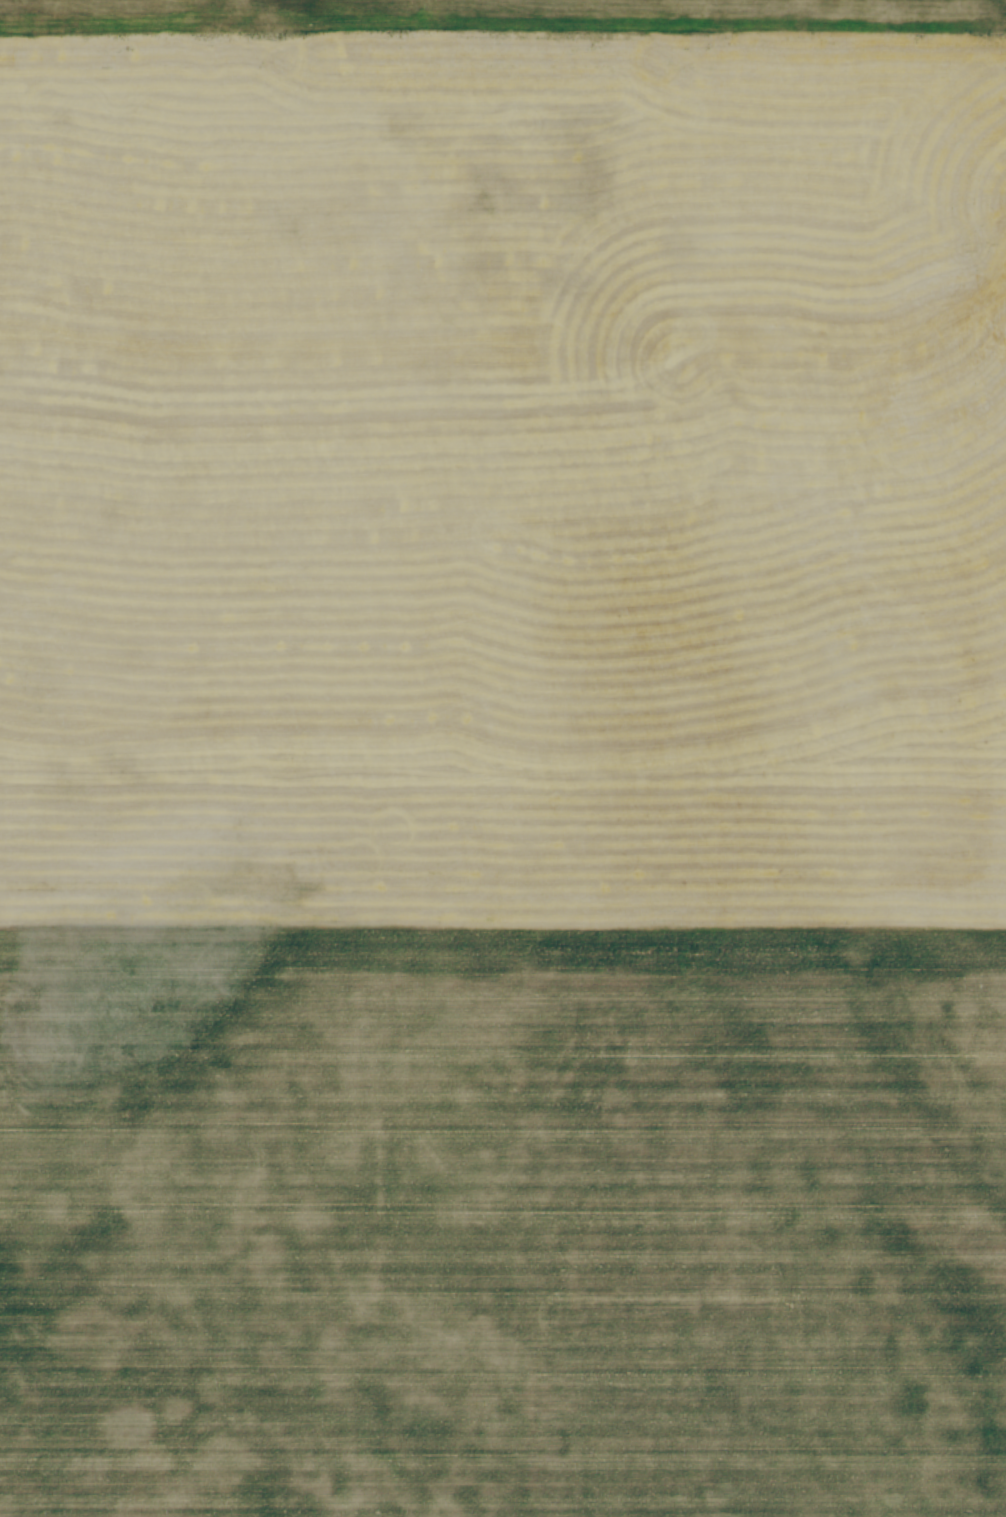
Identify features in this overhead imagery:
crop: (380, 636)

